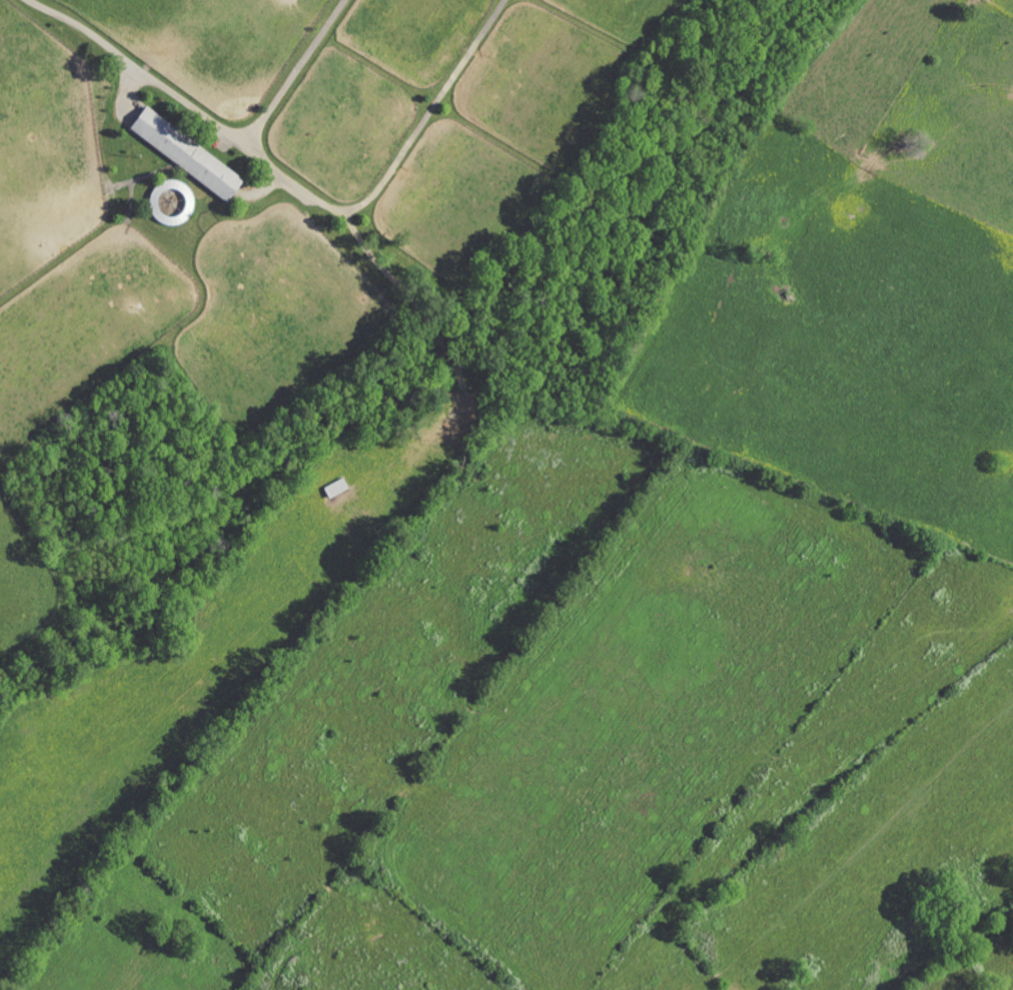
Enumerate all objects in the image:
road: (147, 87)
building: (333, 488)

